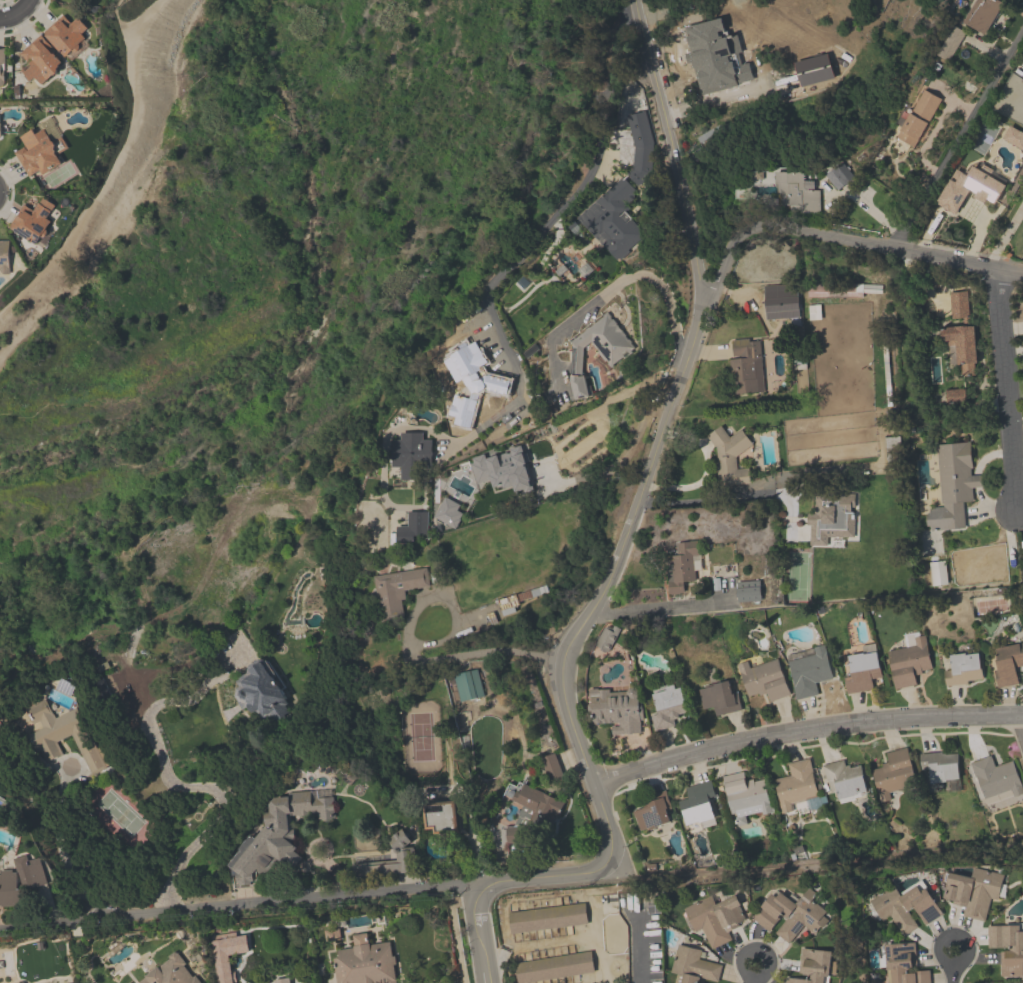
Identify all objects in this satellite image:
road: (28, 2)
road: (14, 15)
building: (982, 15)
road: (117, 19)
building: (65, 36)
building: (951, 43)
building: (1022, 58)
building: (38, 60)
building: (1, 65)
building: (918, 118)
building: (1013, 136)
building: (623, 137)
road: (956, 137)
building: (639, 147)
building: (38, 152)
road: (115, 169)
building: (839, 177)
building: (983, 188)
building: (797, 195)
building: (612, 219)
building: (31, 221)
road: (544, 227)
road: (1005, 237)
road: (835, 240)
building: (4, 257)
road: (614, 285)
building: (833, 289)
building: (780, 300)
building: (960, 333)
building: (612, 353)
building: (744, 365)
building: (472, 381)
road: (1007, 389)
building: (954, 396)
road: (461, 439)
road: (658, 439)
building: (411, 455)
building: (728, 455)
road: (623, 459)
building: (502, 469)
road: (785, 479)
building: (952, 485)
road: (1020, 511)
building: (832, 517)
building: (682, 568)
building: (938, 575)
building: (398, 591)
building: (748, 591)
road: (661, 609)
building: (607, 637)
road: (412, 650)
building: (909, 661)
building: (1007, 664)
building: (863, 669)
building: (964, 669)
building: (810, 672)
building: (763, 679)
building: (469, 686)
building: (258, 690)
building: (720, 697)
building: (668, 705)
building: (617, 709)
road: (1021, 720)
road: (804, 729)
building: (65, 736)
building: (941, 766)
building: (894, 774)
building: (996, 776)
building: (843, 780)
road: (183, 786)
building: (797, 787)
building: (746, 796)
building: (699, 807)
building: (653, 813)
building: (533, 815)
building: (441, 818)
building: (281, 830)
building: (400, 843)
road: (62, 854)
road: (543, 878)
building: (15, 885)
building: (975, 891)
building: (906, 907)
road: (473, 909)
road: (235, 910)
building: (791, 916)
building: (548, 918)
building: (715, 918)
road: (937, 948)
building: (1008, 948)
road: (481, 957)
road: (738, 958)
building: (366, 962)
building: (904, 964)
building: (694, 966)
building: (554, 967)
building: (813, 967)
building: (169, 972)
road: (952, 975)
building: (282, 980)
road: (752, 980)
building: (23, 982)

